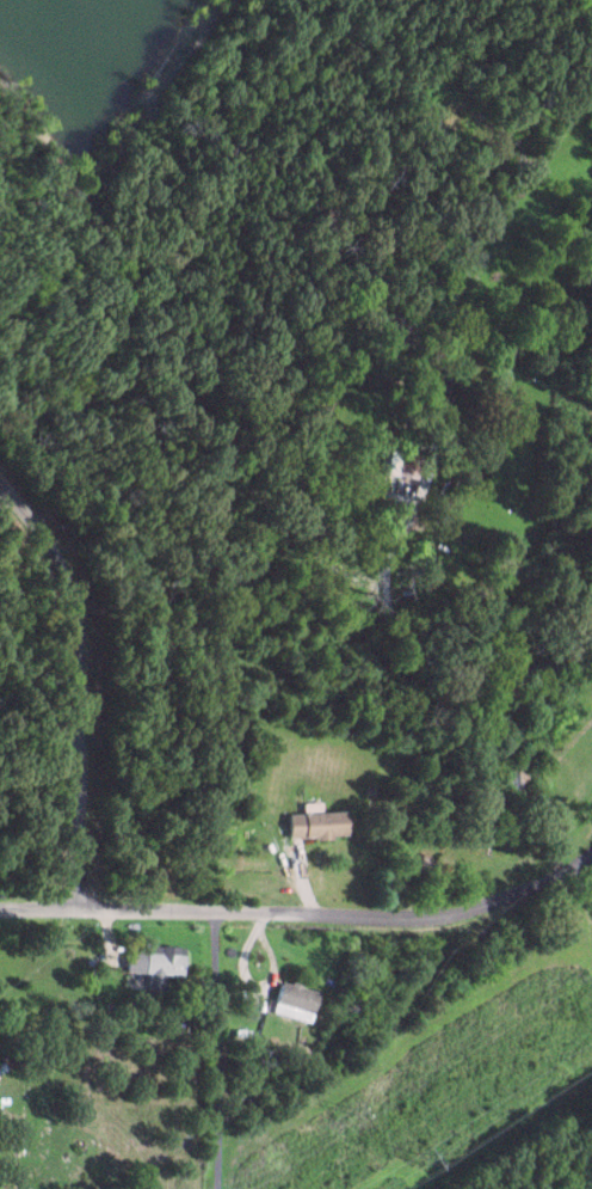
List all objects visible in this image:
building: (426, 387)
road: (439, 663)
road: (78, 686)
building: (309, 823)
road: (302, 917)
building: (150, 962)
building: (289, 1001)
road: (212, 1050)
power tower: (352, 1107)
power tower: (418, 1156)

